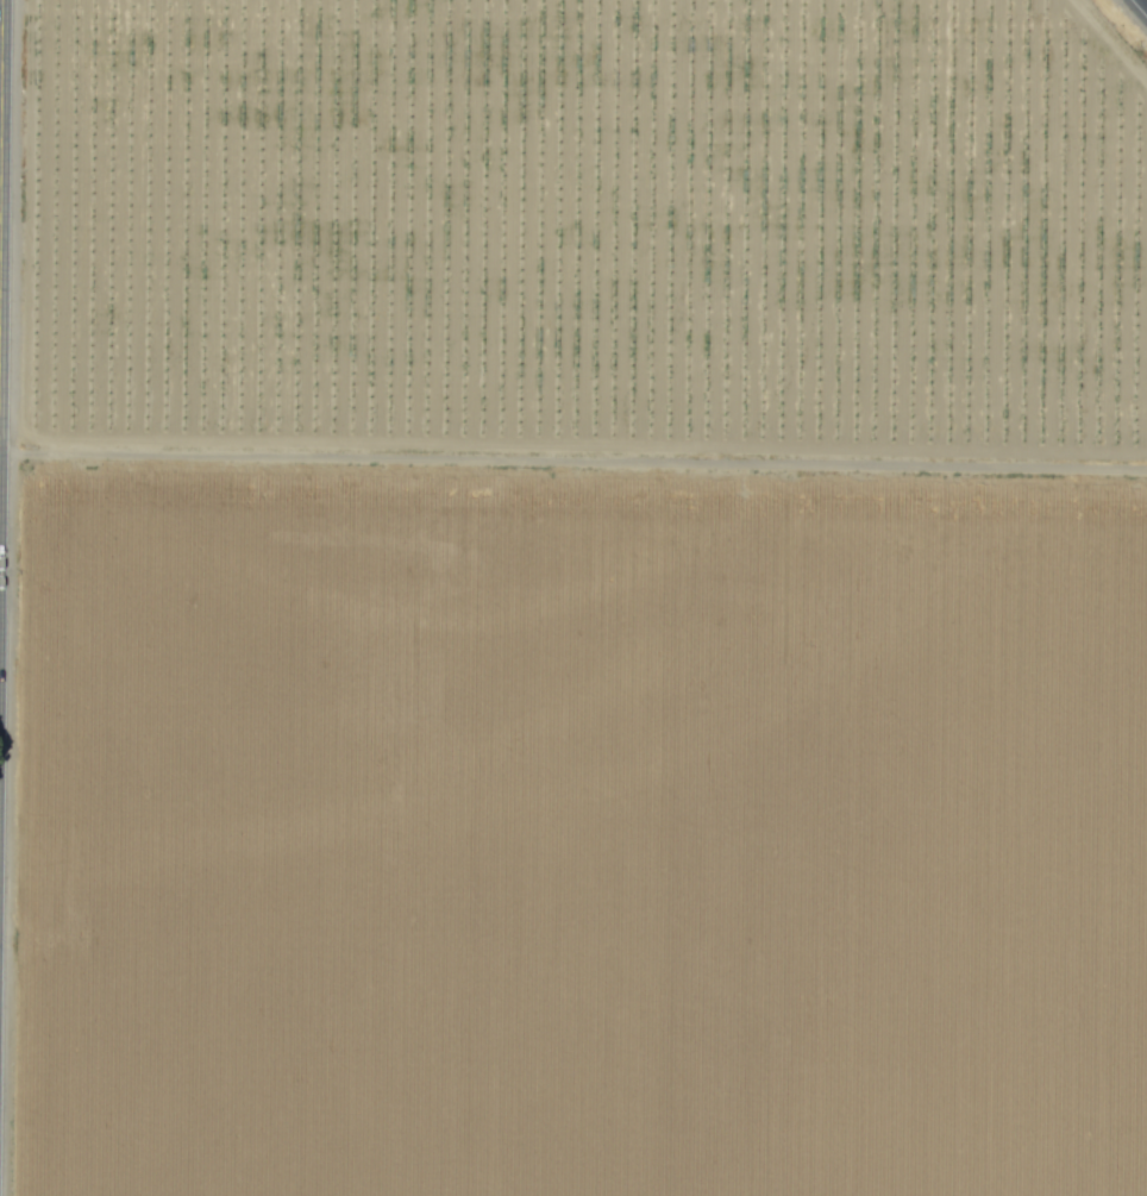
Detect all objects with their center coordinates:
road: (0, 134)

